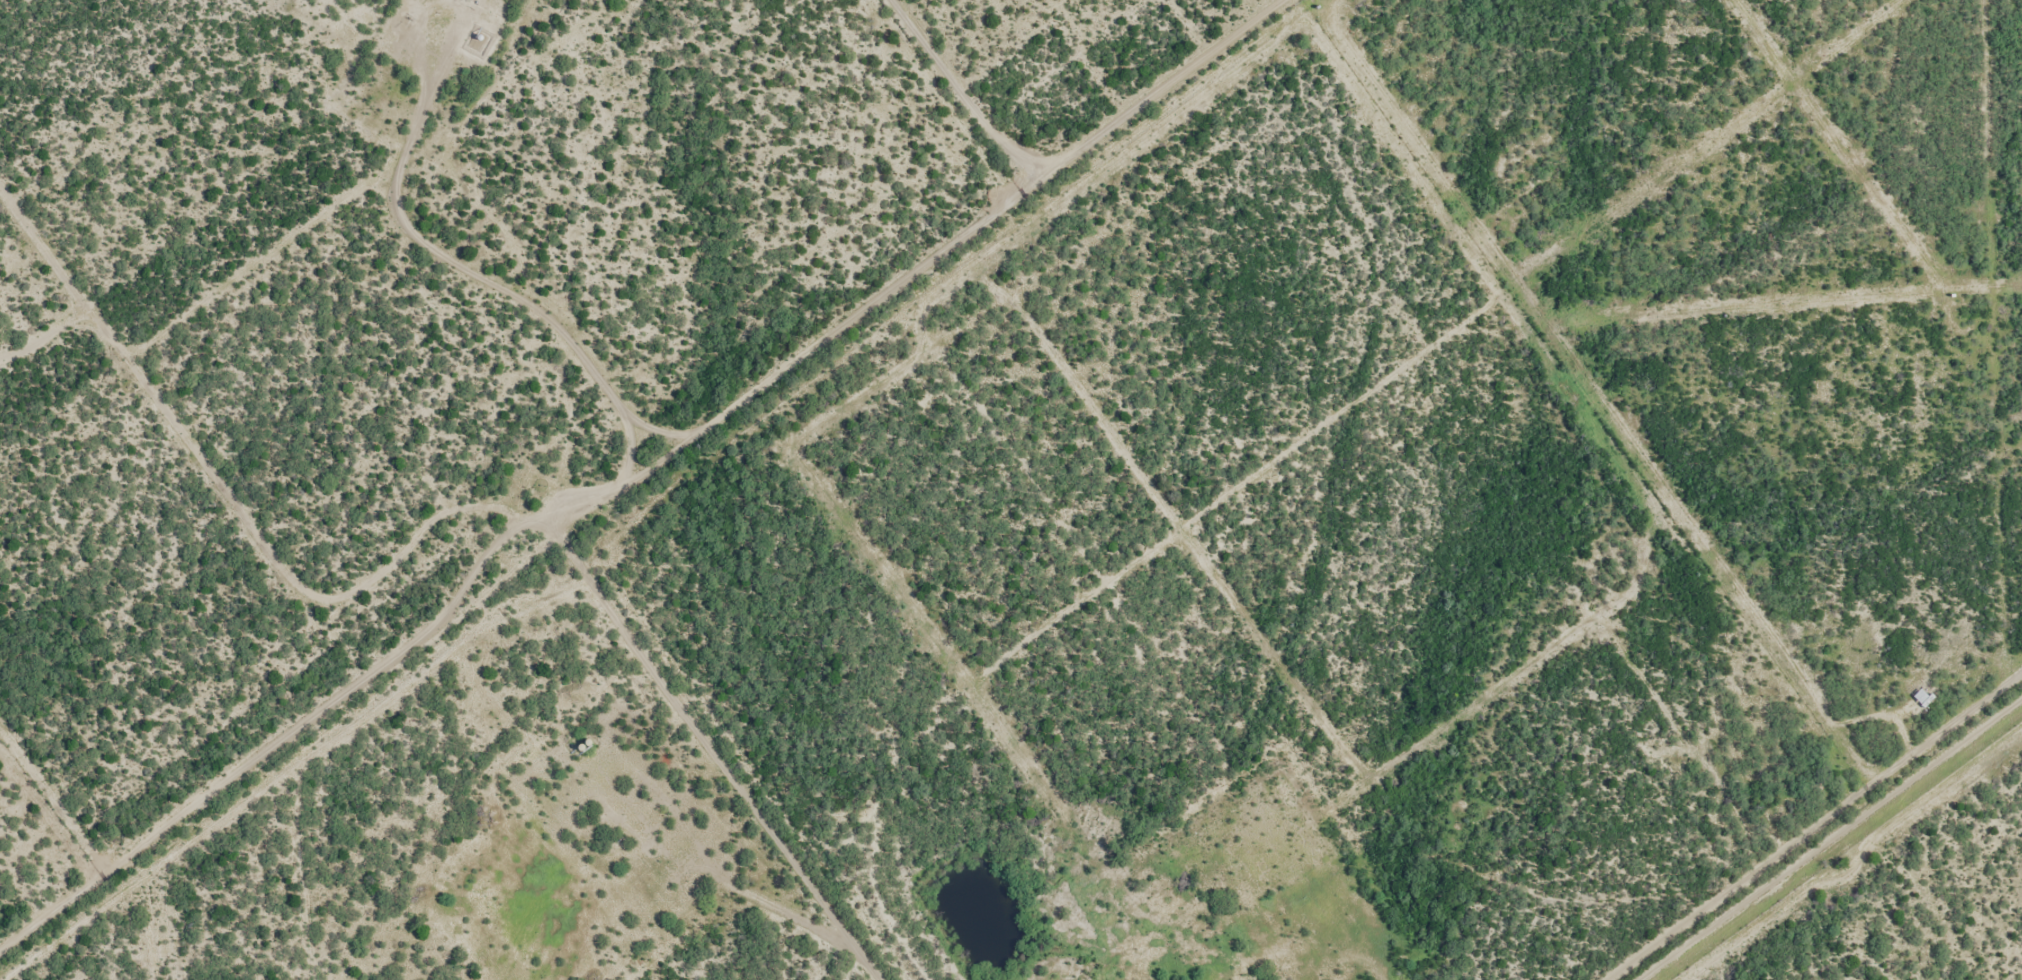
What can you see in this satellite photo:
building: (1918, 694)
road: (1835, 841)

